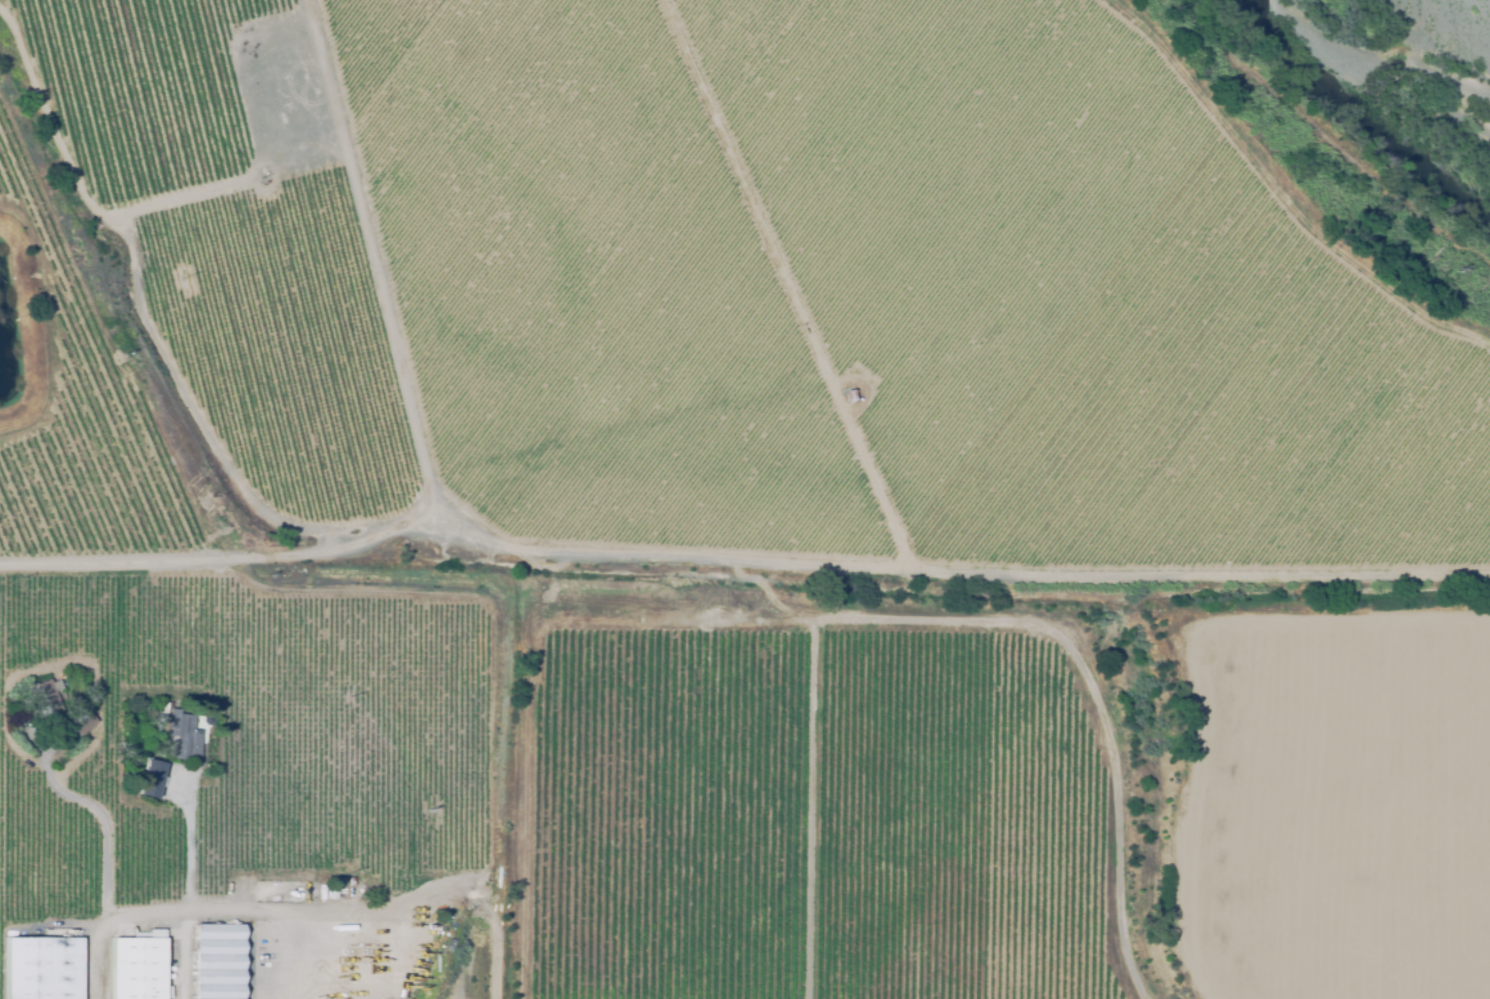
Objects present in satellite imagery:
river: (1374, 119)
road: (1291, 188)
road: (363, 257)
road: (774, 284)
building: (849, 397)
building: (398, 408)
road: (738, 557)
road: (937, 617)
building: (68, 658)
building: (42, 699)
building: (80, 723)
building: (182, 736)
building: (149, 779)
building: (330, 895)
road: (223, 908)
building: (216, 962)
building: (41, 968)
building: (136, 969)
building: (378, 992)

